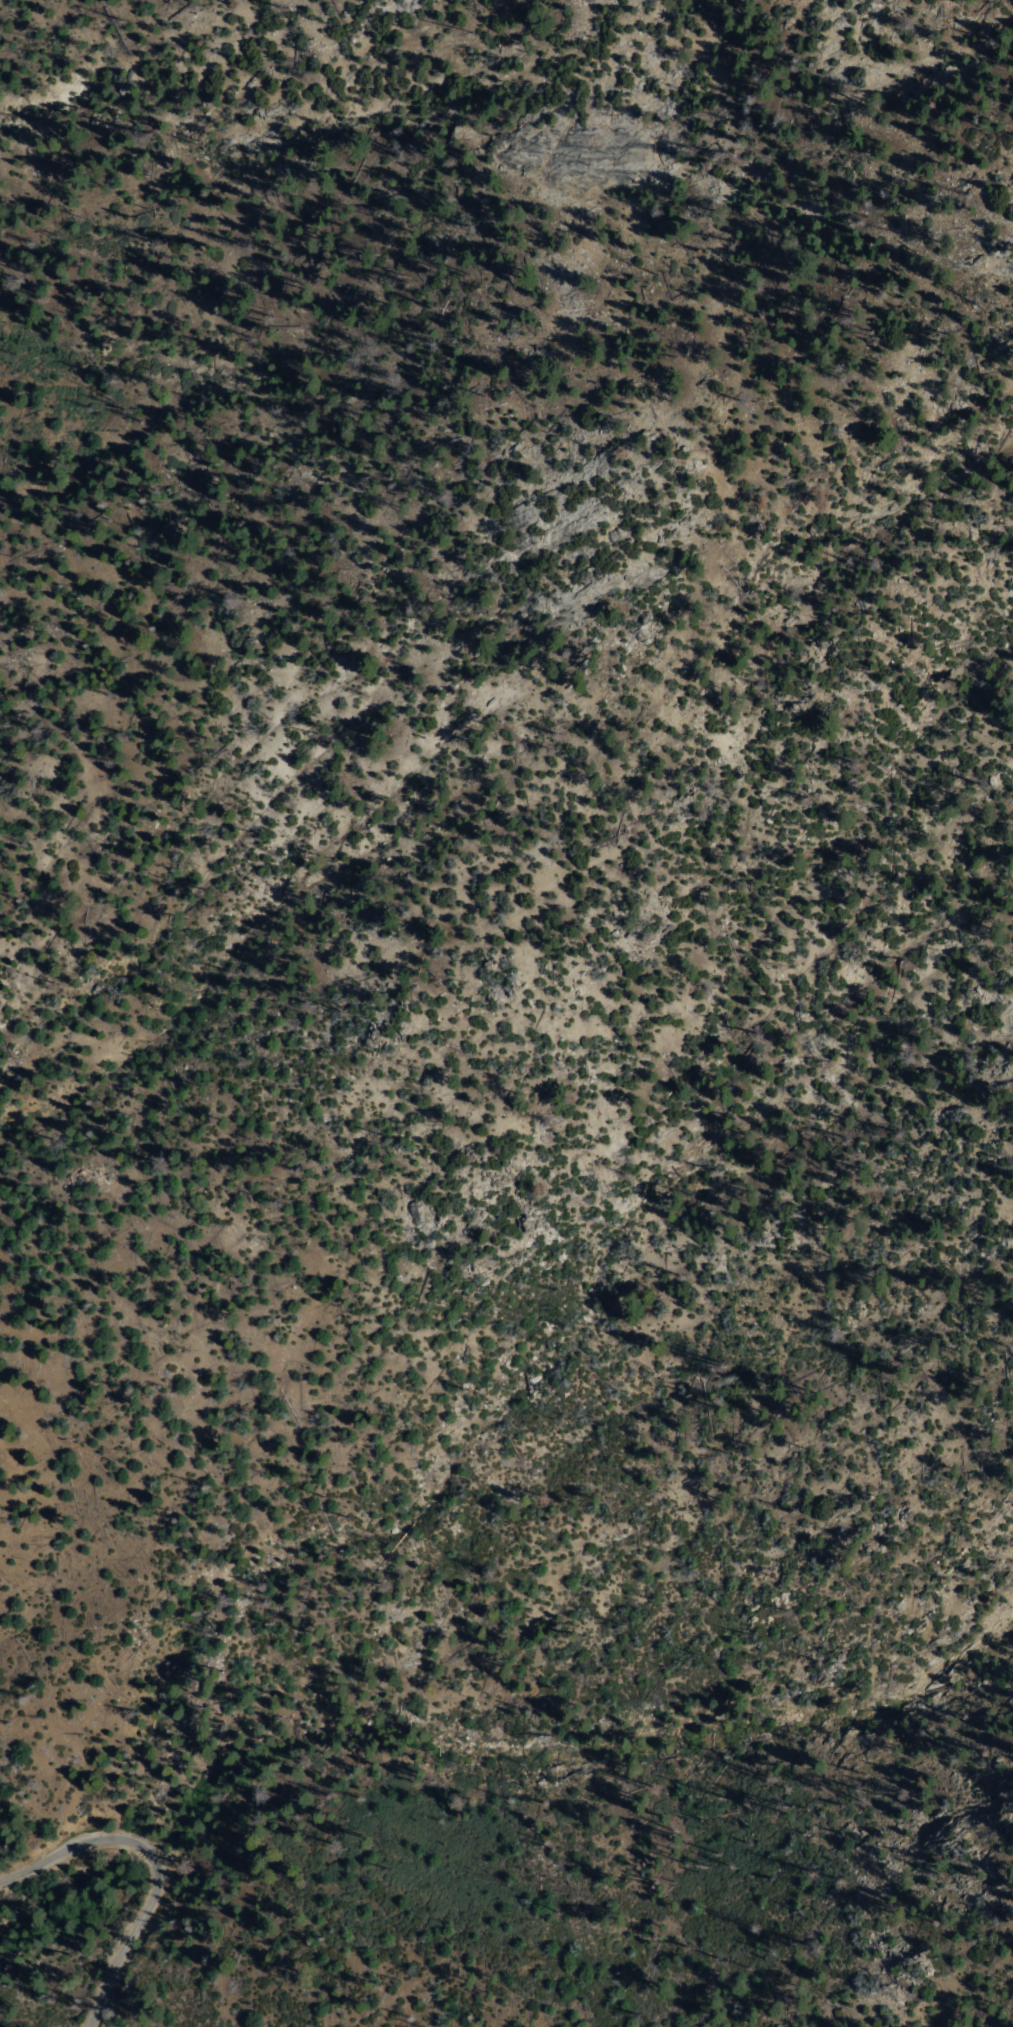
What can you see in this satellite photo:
road: (158, 1864)

